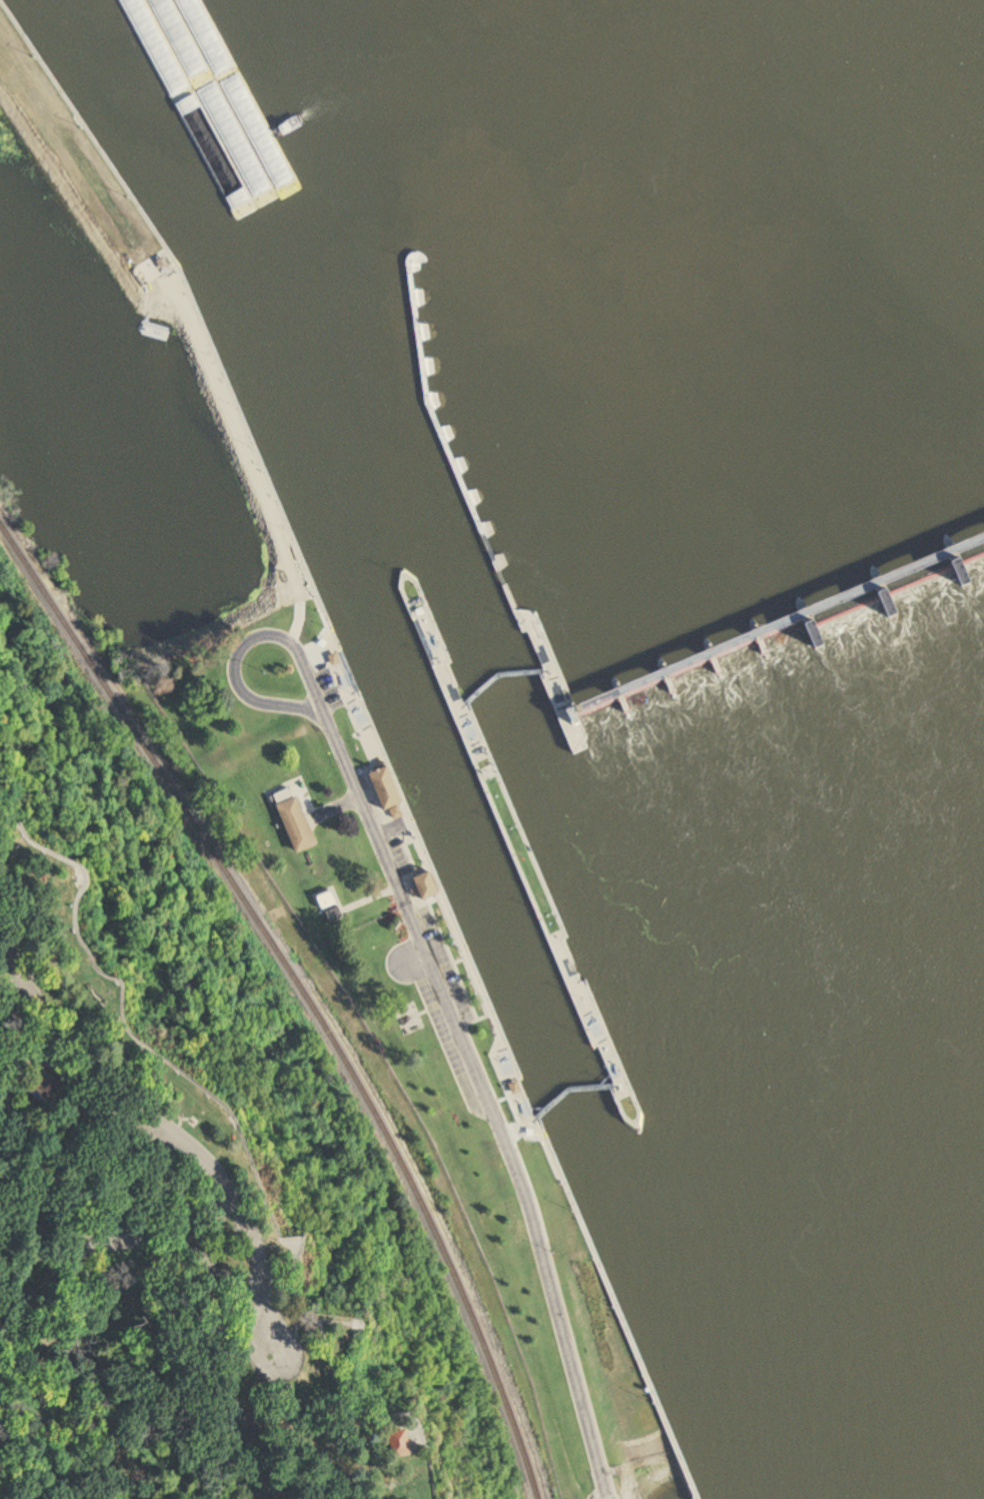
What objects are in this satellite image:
building: (170, 262)
river: (267, 332)
road: (253, 459)
dam: (806, 622)
building: (336, 659)
road: (235, 682)
road: (350, 776)
building: (388, 787)
building: (396, 813)
building: (299, 825)
building: (427, 885)
lock: (483, 887)
building: (328, 900)
road: (0, 912)
parking lot: (0, 914)
building: (335, 915)
building: (371, 933)
road: (462, 956)
road: (450, 959)
road: (457, 961)
parking lot: (440, 991)
railway: (306, 993)
building: (407, 1019)
road: (17, 1057)
road: (201, 1070)
road: (190, 1087)
building: (517, 1087)
park: (208, 1157)
road: (245, 1173)
road: (521, 1185)
park: (507, 1196)
building: (486, 1200)
road: (549, 1251)
river: (679, 1294)
road: (329, 1330)
parking lot: (292, 1332)
road: (328, 1343)
road: (326, 1367)
road: (384, 1406)
building: (445, 1448)
road: (605, 1488)
road: (619, 1497)

